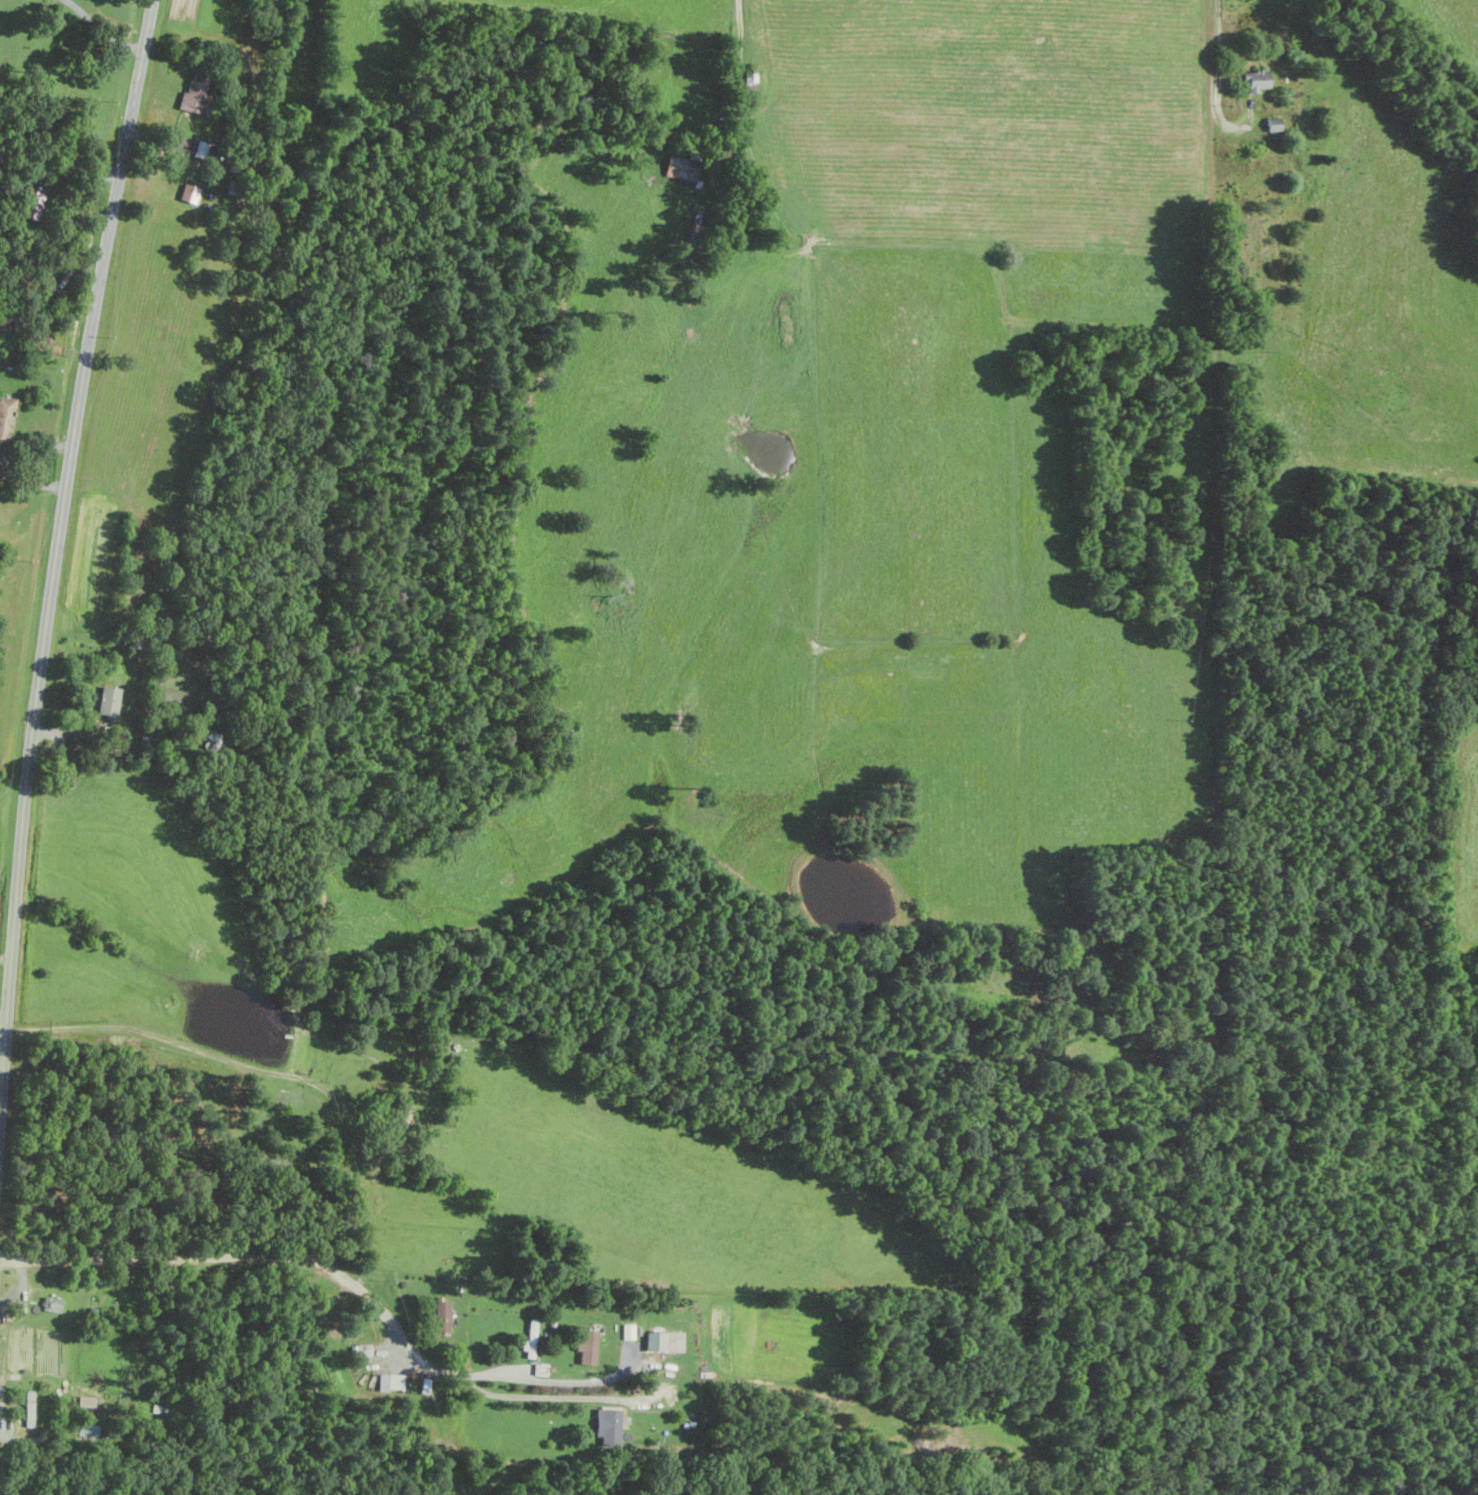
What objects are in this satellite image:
road: (740, 19)
road: (101, 32)
road: (1221, 59)
building: (1258, 80)
building: (197, 92)
building: (1275, 124)
building: (201, 150)
building: (681, 169)
building: (6, 417)
road: (57, 548)
building: (110, 700)
road: (5, 958)
road: (2, 1034)
road: (338, 1275)
building: (53, 1304)
building: (444, 1315)
building: (629, 1331)
building: (656, 1341)
building: (589, 1348)
road: (394, 1349)
building: (365, 1350)
road: (552, 1381)
building: (390, 1382)
building: (609, 1426)
building: (88, 1430)
road: (37, 1437)

